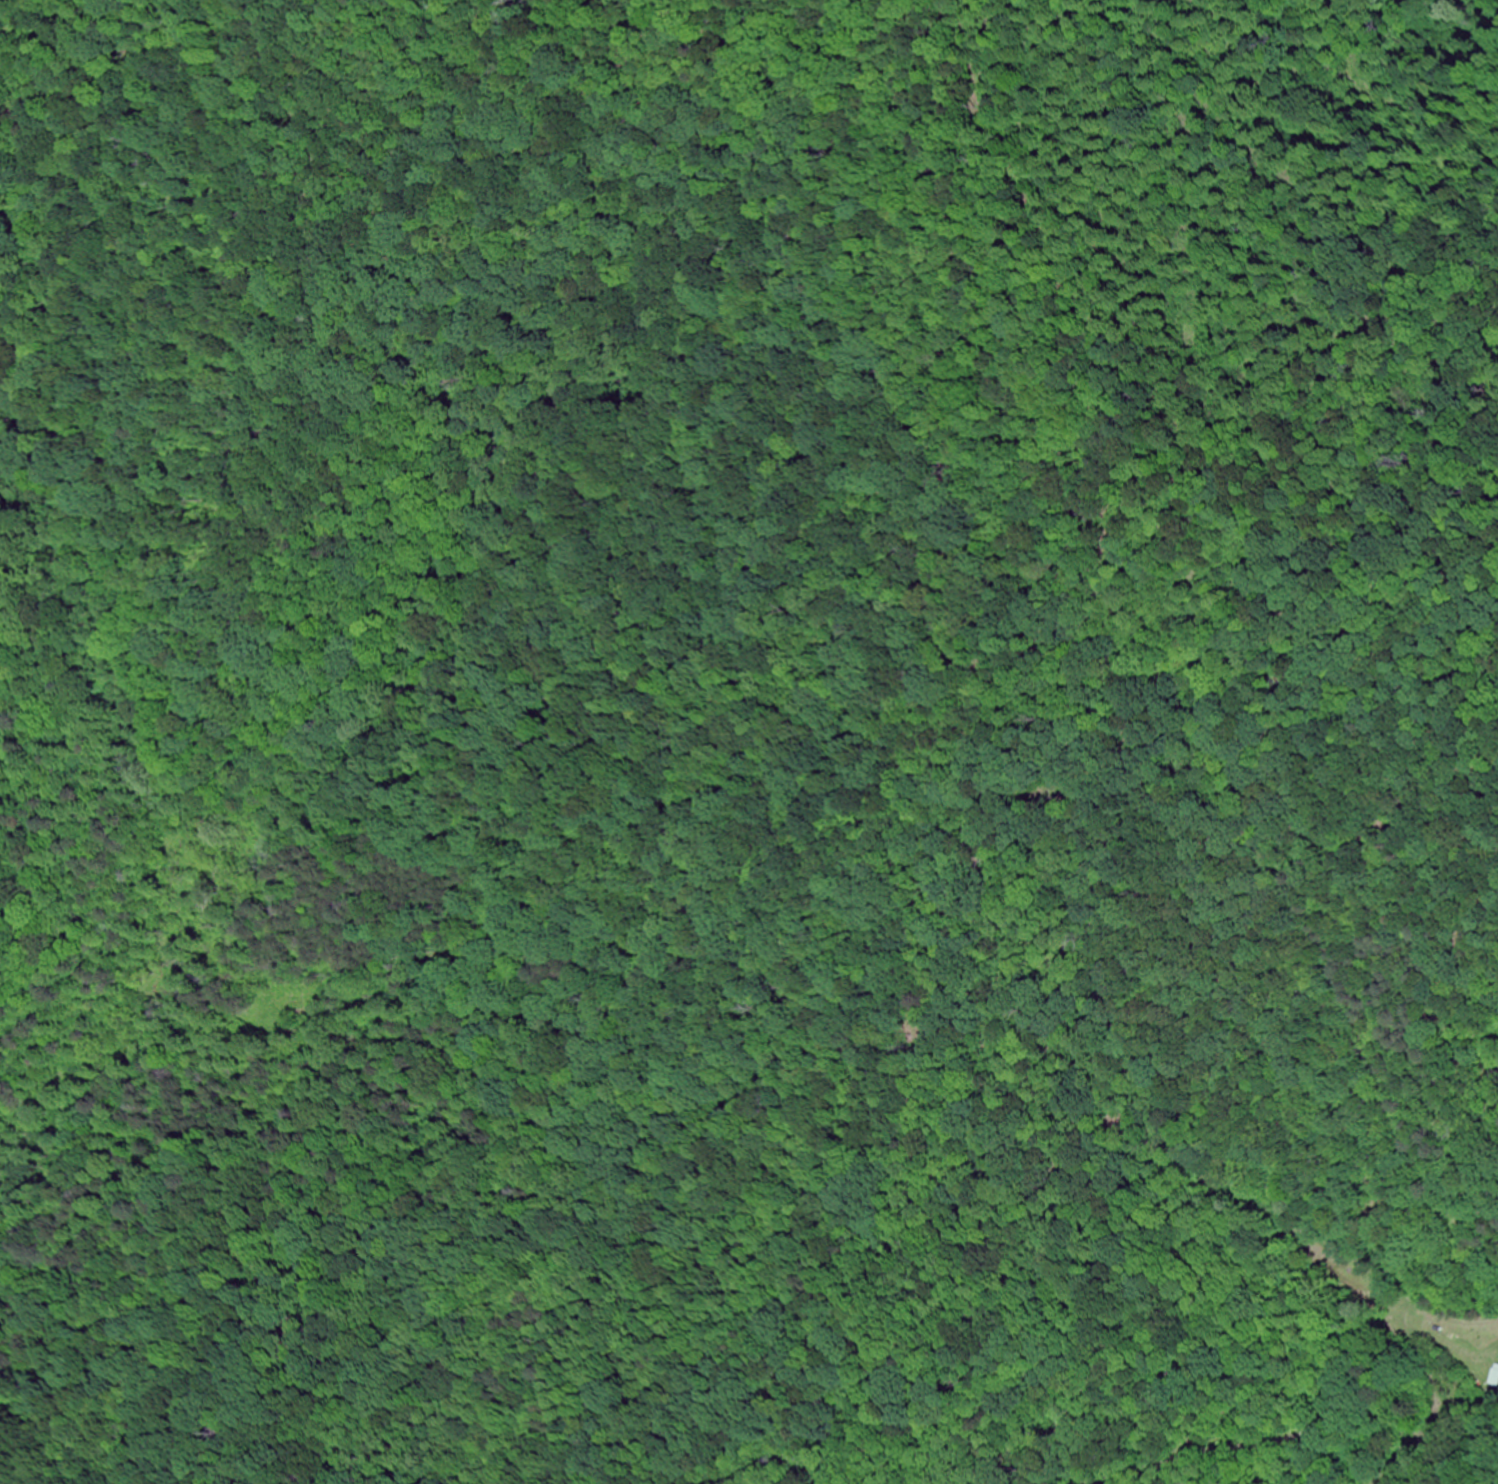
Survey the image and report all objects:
road: (1323, 1326)

